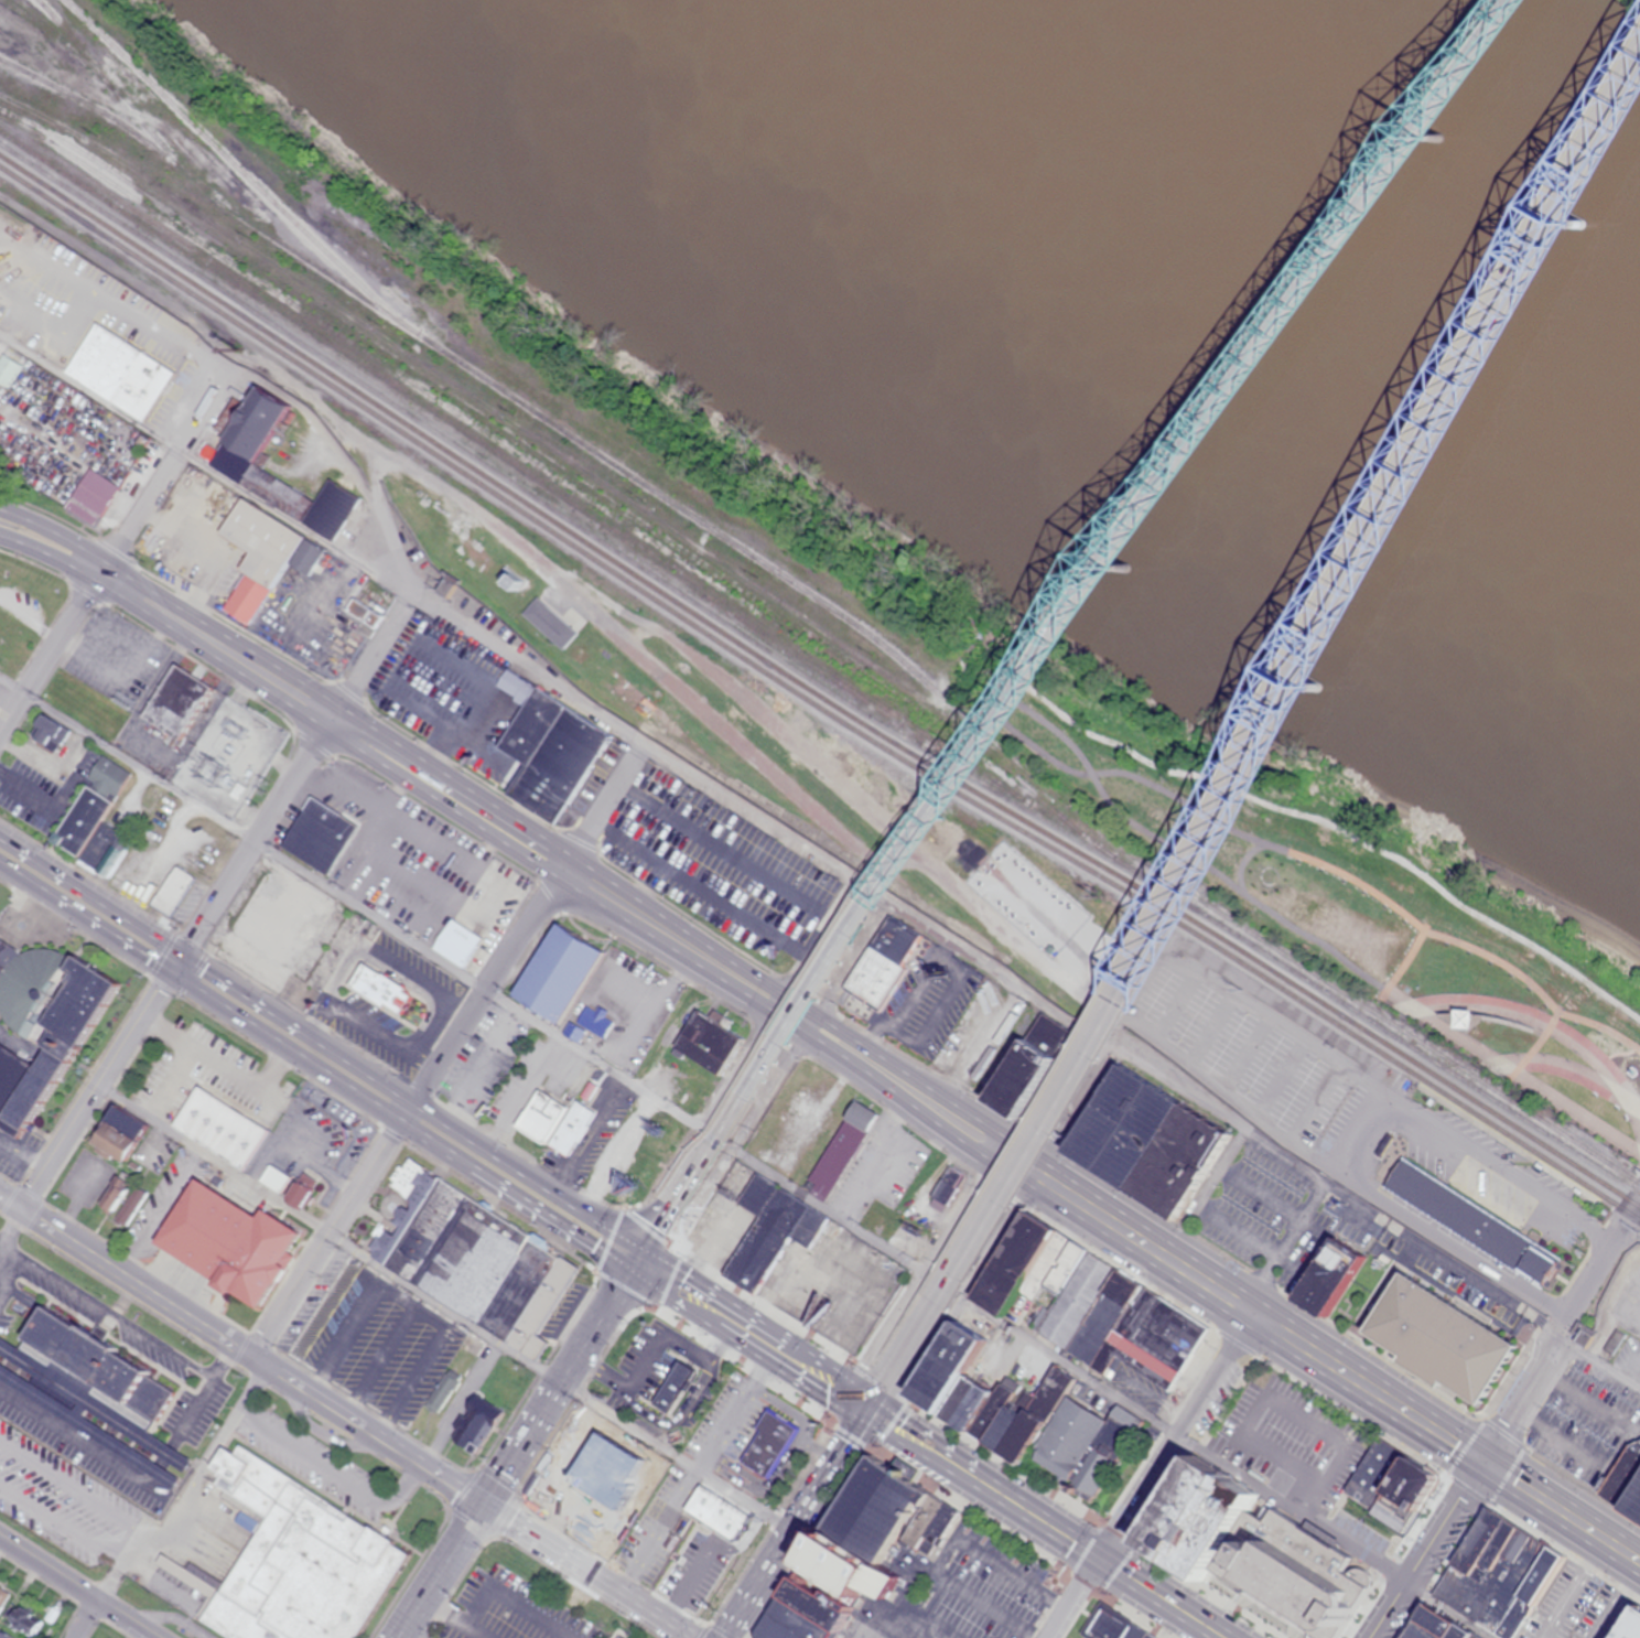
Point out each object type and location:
railway: (23, 9)
road: (1509, 17)
railway: (63, 30)
railway: (110, 88)
road: (1630, 95)
railway: (108, 117)
railway: (224, 154)
river: (1265, 241)
building: (118, 373)
railway: (461, 439)
railway: (592, 448)
railway: (546, 460)
railway: (530, 462)
railway: (522, 465)
building: (90, 497)
road: (74, 539)
road: (114, 552)
building: (262, 557)
road: (67, 567)
road: (1073, 612)
road: (235, 653)
road: (373, 654)
railway: (813, 678)
railway: (813, 689)
railway: (813, 701)
road: (1004, 705)
road: (1259, 745)
building: (553, 751)
road: (665, 755)
building: (497, 768)
road: (450, 790)
road: (1180, 796)
road: (604, 802)
building: (79, 822)
road: (255, 838)
road: (1159, 840)
building: (324, 841)
road: (1361, 882)
building: (746, 883)
park: (1355, 885)
building: (173, 892)
road: (88, 905)
road: (1276, 915)
building: (287, 935)
road: (682, 940)
building: (455, 942)
road: (1409, 956)
railway: (1296, 960)
traffic signals: (176, 962)
building: (884, 963)
building: (554, 974)
road: (1534, 985)
road: (487, 988)
road: (1384, 988)
road: (1510, 1021)
road: (1549, 1023)
road: (291, 1036)
road: (1540, 1039)
building: (705, 1042)
building: (47, 1045)
road: (1513, 1069)
road: (1574, 1070)
road: (909, 1075)
road: (95, 1087)
road: (898, 1092)
building: (538, 1118)
building: (218, 1127)
building: (571, 1129)
road: (1362, 1132)
building: (109, 1139)
railway: (1509, 1139)
road: (732, 1141)
building: (1145, 1141)
building: (840, 1151)
building: (273, 1178)
road: (520, 1184)
building: (295, 1193)
road: (826, 1207)
building: (1472, 1219)
road: (1620, 1230)
road: (652, 1231)
road: (326, 1235)
road: (1133, 1235)
road: (14, 1239)
building: (224, 1243)
building: (1327, 1254)
traffic signals: (636, 1257)
road: (1441, 1258)
building: (470, 1262)
road: (924, 1265)
road: (1584, 1285)
road: (961, 1295)
road: (1612, 1303)
road: (444, 1306)
road: (125, 1322)
building: (1130, 1324)
road: (753, 1329)
building: (1439, 1339)
building: (115, 1359)
road: (1597, 1360)
road: (1071, 1365)
road: (1371, 1387)
road: (253, 1388)
road: (1529, 1388)
road: (877, 1389)
road: (199, 1397)
traffic signals: (870, 1405)
building: (80, 1408)
road: (346, 1419)
building: (1004, 1422)
building: (1075, 1438)
building: (770, 1444)
road: (514, 1446)
road: (317, 1454)
traffic signals: (1483, 1458)
road: (1153, 1476)
road: (406, 1484)
building: (1387, 1490)
building: (1632, 1496)
building: (622, 1499)
traffic signals: (479, 1500)
road: (1294, 1508)
road: (1562, 1508)
railway: (196, 1510)
building: (883, 1512)
road: (796, 1521)
road: (1048, 1522)
railway: (154, 1537)
road: (1427, 1548)
traffic signals: (1101, 1555)
building: (316, 1572)
building: (1500, 1574)
road: (77, 1587)
road: (488, 1589)
building: (1304, 1592)
building: (1, 1598)
parking lot: (521, 1608)
road: (1449, 1609)
road: (166, 1616)
road: (85, 1619)
building: (22, 1620)
building: (1625, 1624)
building: (1113, 1627)
road: (481, 1630)
building: (621, 1631)
road: (396, 1636)
road: (396, 1636)
building: (2, 1637)

